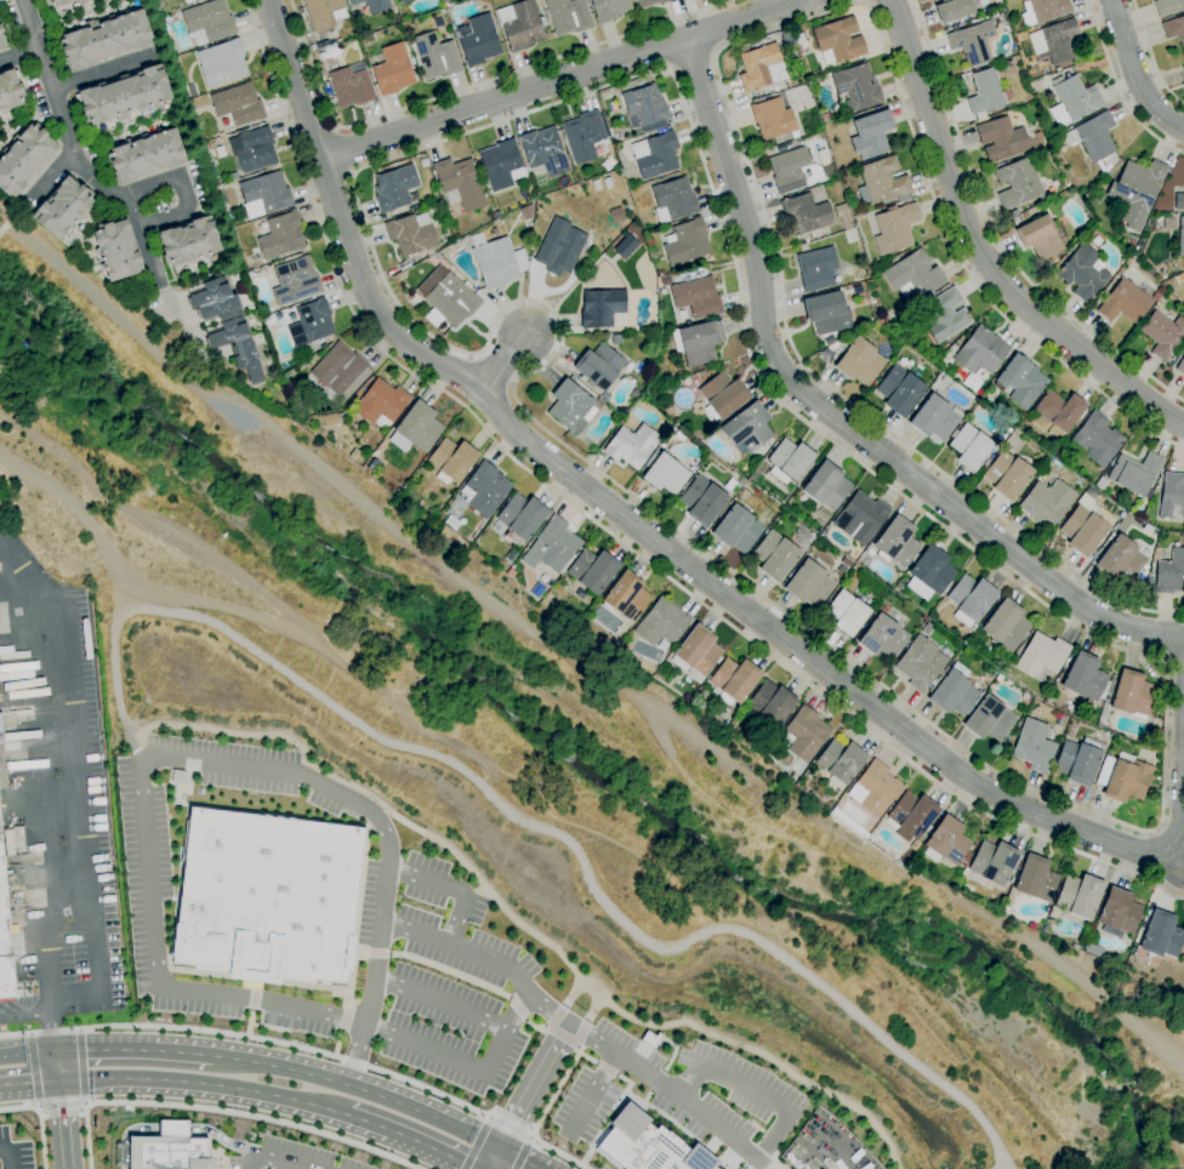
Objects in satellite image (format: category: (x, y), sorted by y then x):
building: (399, 0)
building: (403, 1)
road: (864, 1)
building: (62, 2)
building: (158, 2)
building: (650, 2)
building: (372, 5)
building: (1168, 6)
building: (609, 8)
building: (952, 10)
building: (1044, 10)
building: (323, 13)
building: (568, 16)
building: (209, 22)
building: (522, 24)
building: (1174, 29)
building: (0, 30)
building: (103, 39)
building: (478, 40)
building: (837, 40)
building: (973, 41)
building: (1054, 41)
building: (1, 45)
building: (323, 46)
building: (328, 53)
road: (19, 55)
building: (436, 56)
road: (1150, 56)
road: (691, 62)
building: (221, 63)
building: (761, 67)
building: (1183, 68)
building: (392, 69)
road: (101, 73)
road: (1133, 73)
building: (962, 76)
road: (562, 80)
road: (721, 82)
building: (351, 86)
road: (471, 86)
building: (856, 87)
road: (1118, 87)
building: (8, 91)
building: (987, 92)
building: (123, 96)
building: (1072, 99)
building: (237, 106)
building: (644, 109)
road: (59, 110)
building: (773, 119)
building: (617, 133)
building: (584, 135)
building: (871, 135)
building: (1037, 137)
building: (1002, 139)
building: (1093, 139)
building: (780, 148)
building: (252, 149)
road: (343, 150)
building: (543, 150)
building: (144, 155)
building: (655, 155)
building: (23, 159)
building: (501, 165)
building: (792, 170)
road: (52, 176)
building: (882, 182)
building: (459, 183)
building: (1017, 183)
building: (394, 188)
building: (1135, 192)
building: (264, 194)
building: (673, 200)
building: (1178, 201)
building: (61, 209)
road: (186, 209)
building: (525, 211)
building: (807, 212)
building: (496, 213)
building: (616, 215)
building: (843, 216)
building: (442, 223)
building: (894, 228)
building: (1089, 233)
building: (410, 234)
road: (995, 235)
building: (278, 238)
building: (1041, 238)
building: (1180, 238)
building: (1095, 240)
building: (188, 241)
building: (685, 243)
building: (559, 246)
building: (115, 250)
road: (979, 253)
building: (892, 255)
building: (496, 261)
building: (887, 262)
building: (816, 268)
road: (153, 269)
building: (591, 272)
building: (1082, 273)
building: (913, 275)
building: (295, 280)
building: (472, 289)
building: (856, 289)
building: (448, 296)
building: (695, 297)
building: (212, 301)
building: (1123, 302)
building: (600, 307)
building: (827, 313)
building: (943, 315)
building: (311, 323)
building: (880, 326)
building: (1162, 333)
building: (615, 338)
building: (698, 341)
building: (827, 341)
building: (235, 346)
building: (980, 352)
building: (859, 361)
road: (502, 363)
building: (598, 366)
building: (1180, 366)
building: (338, 369)
building: (289, 373)
building: (678, 375)
building: (943, 380)
building: (695, 381)
building: (1021, 381)
building: (899, 390)
building: (634, 393)
building: (604, 395)
building: (722, 395)
building: (381, 404)
building: (570, 405)
building: (320, 406)
building: (666, 409)
building: (1057, 411)
building: (934, 417)
building: (624, 418)
road: (835, 418)
building: (329, 420)
building: (419, 426)
building: (746, 429)
building: (679, 437)
building: (1095, 439)
building: (631, 445)
building: (661, 445)
building: (969, 446)
building: (451, 461)
building: (789, 461)
building: (700, 462)
building: (664, 473)
building: (1134, 473)
building: (1007, 474)
building: (753, 477)
building: (740, 481)
building: (826, 485)
building: (484, 490)
building: (1171, 496)
building: (701, 500)
building: (419, 502)
building: (1046, 502)
building: (520, 518)
building: (820, 518)
building: (860, 518)
building: (1085, 528)
building: (736, 529)
road: (615, 537)
road: (651, 537)
building: (896, 542)
building: (552, 546)
road: (11, 555)
building: (774, 555)
building: (1121, 560)
building: (592, 570)
building: (929, 572)
building: (1171, 572)
building: (808, 584)
road: (50, 597)
building: (626, 597)
building: (969, 599)
building: (846, 612)
building: (661, 622)
building: (1006, 626)
building: (927, 628)
building: (882, 637)
building: (617, 640)
street lamp: (42, 641)
building: (611, 646)
building: (696, 651)
building: (1042, 655)
road: (1173, 658)
building: (920, 663)
building: (1083, 677)
building: (735, 678)
building: (998, 678)
building: (954, 690)
building: (1132, 695)
street lamp: (49, 702)
building: (770, 705)
building: (989, 718)
road: (226, 731)
building: (1, 732)
building: (804, 734)
road: (133, 736)
building: (1034, 746)
road: (57, 748)
road: (35, 753)
river: (574, 754)
building: (841, 760)
building: (1077, 760)
road: (291, 771)
street lamp: (55, 775)
building: (1123, 777)
road: (342, 781)
road: (1162, 787)
building: (875, 788)
parking lot: (63, 793)
building: (911, 815)
building: (848, 822)
road: (529, 826)
road: (85, 834)
building: (946, 842)
street lamp: (61, 843)
building: (966, 859)
building: (994, 862)
road: (69, 873)
building: (1035, 878)
road: (450, 888)
road: (479, 889)
road: (469, 893)
building: (1080, 895)
building: (263, 896)
building: (1117, 913)
road: (355, 920)
building: (1160, 935)
building: (5, 942)
road: (359, 953)
road: (376, 953)
road: (449, 971)
road: (51, 975)
road: (251, 977)
road: (255, 983)
road: (571, 991)
road: (254, 999)
road: (440, 1003)
road: (516, 1008)
road: (592, 1009)
road: (323, 1015)
road: (553, 1015)
road: (23, 1016)
road: (1131, 1016)
road: (627, 1017)
road: (343, 1019)
road: (250, 1022)
road: (533, 1026)
road: (171, 1027)
road: (268, 1027)
road: (79, 1032)
road: (505, 1032)
road: (579, 1032)
road: (50, 1033)
road: (580, 1034)
road: (29, 1036)
road: (560, 1036)
road: (336, 1043)
road: (673, 1049)
road: (103, 1050)
traffic signals: (53, 1053)
road: (182, 1053)
road: (27, 1055)
road: (586, 1057)
road: (352, 1061)
road: (56, 1066)
road: (81, 1067)
road: (604, 1068)
road: (33, 1071)
traffic signals: (58, 1079)
road: (656, 1080)
road: (29, 1082)
road: (204, 1083)
road: (533, 1088)
road: (358, 1089)
road: (432, 1090)
road: (554, 1091)
road: (592, 1091)
road: (756, 1091)
road: (645, 1096)
road: (61, 1104)
road: (18, 1106)
road: (613, 1107)
road: (255, 1116)
road: (488, 1117)
road: (62, 1123)
road: (510, 1127)
road: (678, 1127)
road: (172, 1128)
road: (125, 1134)
road: (40, 1135)
road: (85, 1135)
road: (220, 1137)
road: (530, 1137)
road: (412, 1140)
road: (476, 1144)
building: (641, 1145)
building: (167, 1150)
traffic signals: (497, 1150)
road: (522, 1153)
road: (557, 1153)
road: (7, 1154)
road: (585, 1156)
road: (274, 1158)
road: (516, 1158)
road: (493, 1159)
road: (223, 1164)
building: (707, 1167)
road: (1006, 1168)

